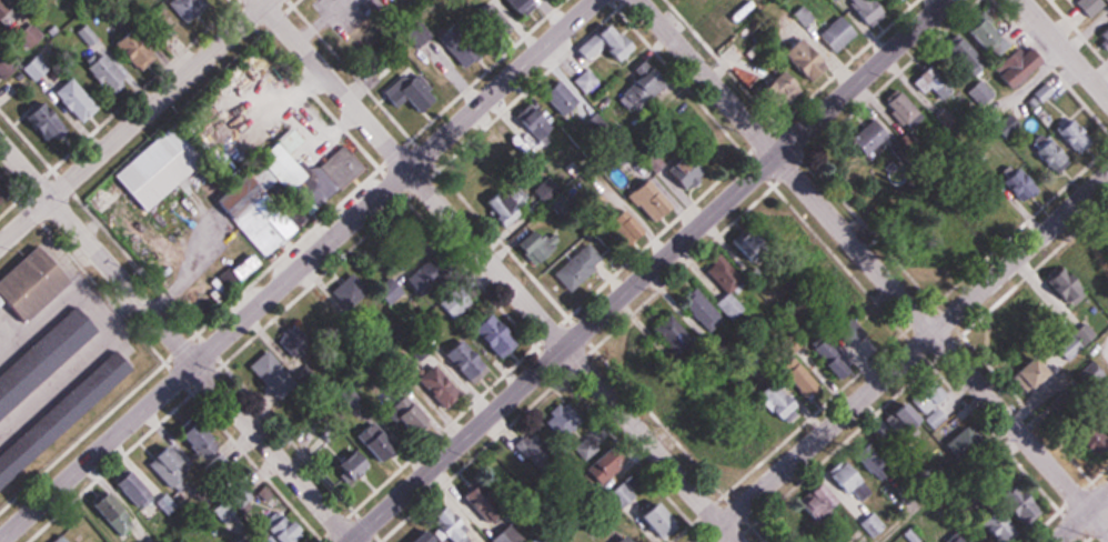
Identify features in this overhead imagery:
building: (90, 1)
building: (707, 3)
building: (527, 6)
building: (190, 9)
building: (872, 9)
building: (731, 13)
building: (493, 20)
building: (986, 32)
building: (842, 33)
building: (466, 42)
building: (623, 44)
building: (138, 50)
road: (1064, 50)
building: (966, 54)
building: (810, 60)
building: (1020, 67)
building: (110, 76)
building: (929, 80)
building: (587, 81)
building: (789, 87)
building: (644, 89)
building: (415, 91)
building: (981, 93)
building: (564, 98)
building: (78, 101)
building: (907, 110)
road: (134, 121)
building: (538, 124)
building: (50, 127)
building: (1075, 133)
building: (1052, 153)
building: (286, 163)
building: (164, 167)
building: (343, 168)
building: (691, 171)
building: (1021, 182)
building: (0, 194)
building: (654, 203)
building: (505, 208)
building: (1000, 219)
building: (269, 224)
building: (959, 241)
building: (751, 243)
building: (583, 264)
road: (872, 264)
building: (249, 267)
road: (299, 270)
road: (496, 271)
road: (649, 271)
building: (34, 283)
building: (1067, 284)
building: (728, 285)
building: (352, 290)
building: (702, 309)
building: (320, 320)
building: (675, 334)
building: (1007, 335)
building: (500, 337)
road: (175, 342)
building: (636, 354)
road: (906, 359)
building: (469, 361)
building: (800, 377)
building: (275, 378)
building: (19, 388)
building: (442, 388)
building: (673, 394)
building: (83, 398)
building: (777, 402)
building: (926, 409)
building: (410, 421)
building: (565, 421)
building: (966, 443)
building: (205, 444)
building: (524, 450)
building: (608, 465)
building: (359, 466)
building: (503, 466)
building: (882, 466)
building: (172, 473)
building: (855, 483)
building: (138, 491)
building: (820, 506)
road: (1080, 516)
building: (1014, 518)
building: (662, 522)
building: (874, 526)
building: (795, 530)
building: (296, 532)
building: (242, 536)
building: (584, 538)
building: (63, 539)
building: (627, 539)

